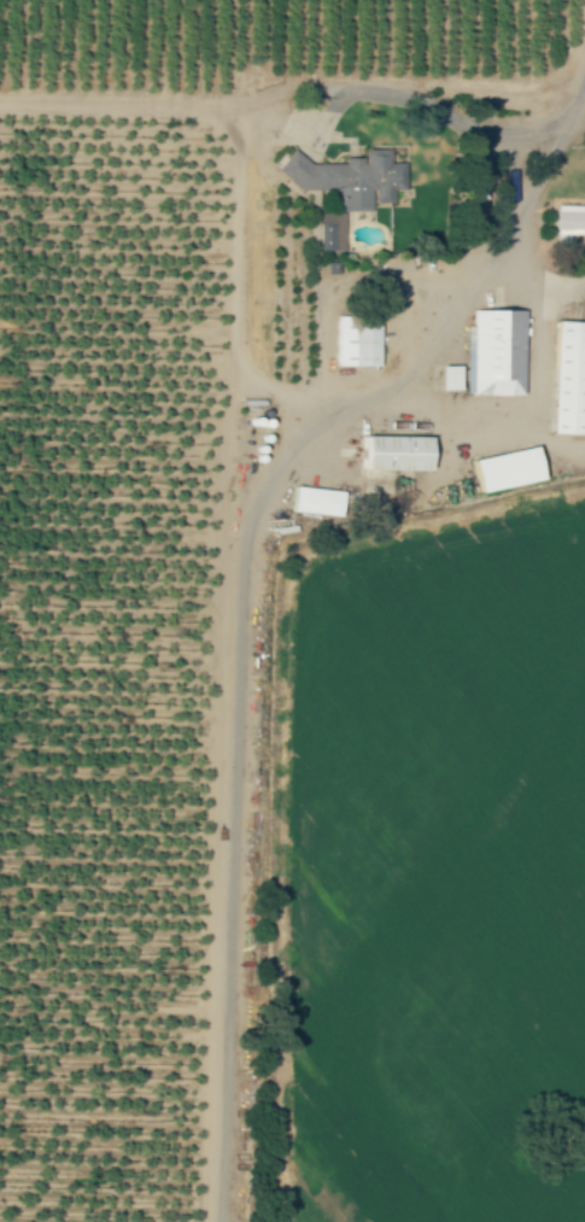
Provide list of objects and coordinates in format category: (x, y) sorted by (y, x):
road: (131, 110)
building: (349, 180)
building: (568, 223)
building: (329, 232)
building: (355, 341)
building: (492, 355)
building: (566, 380)
building: (390, 455)
road: (275, 466)
building: (501, 470)
building: (314, 503)

